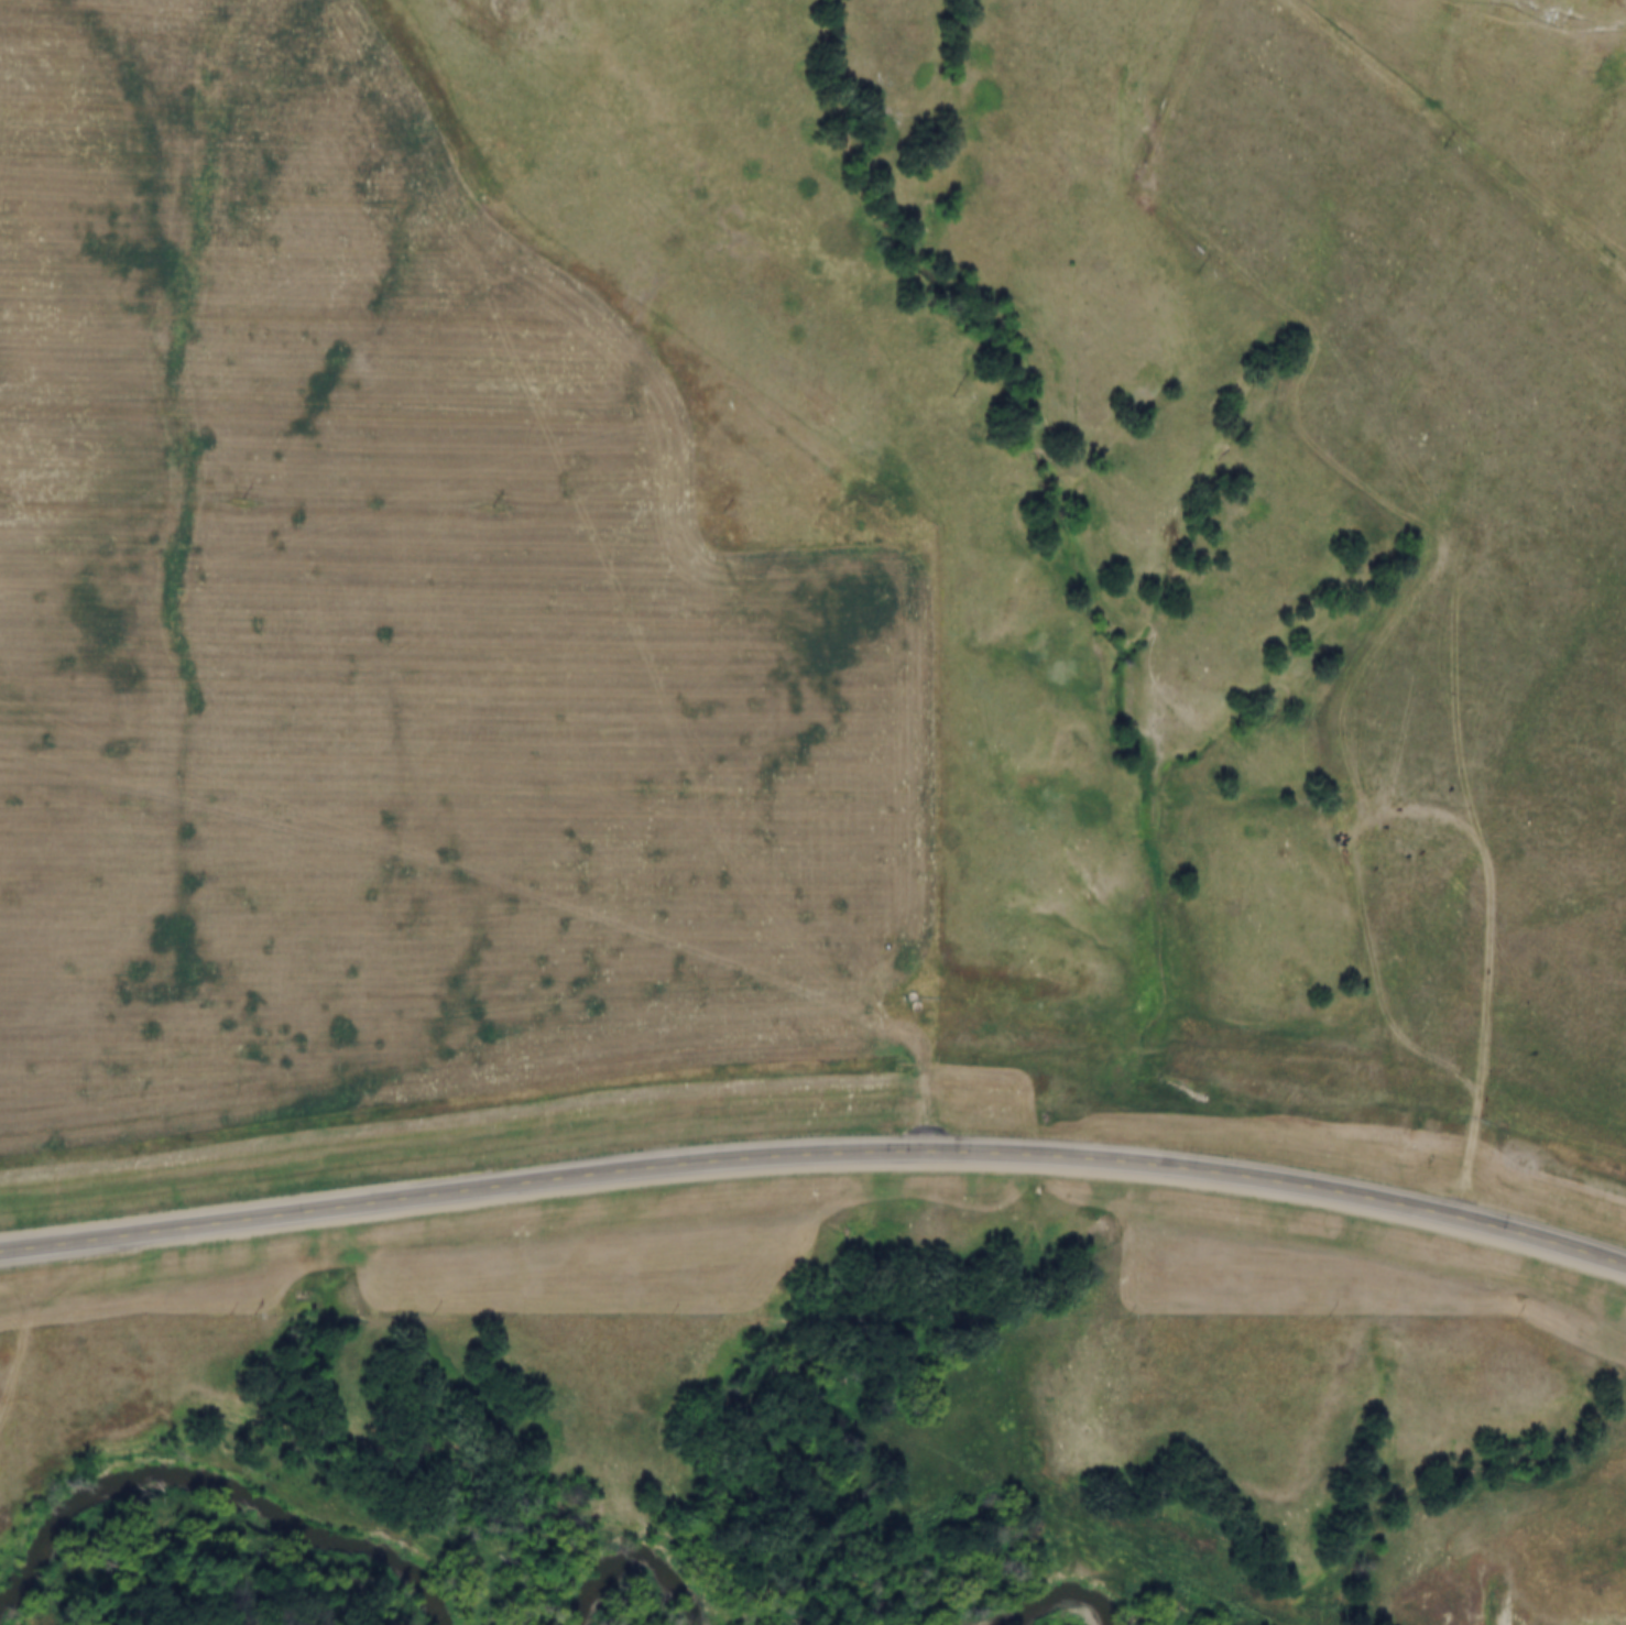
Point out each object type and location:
road: (1538, 23)
road: (1307, 407)
road: (1489, 797)
road: (1400, 832)
road: (976, 840)
road: (816, 1157)
river: (221, 1475)
river: (639, 1561)
river: (1062, 1586)

